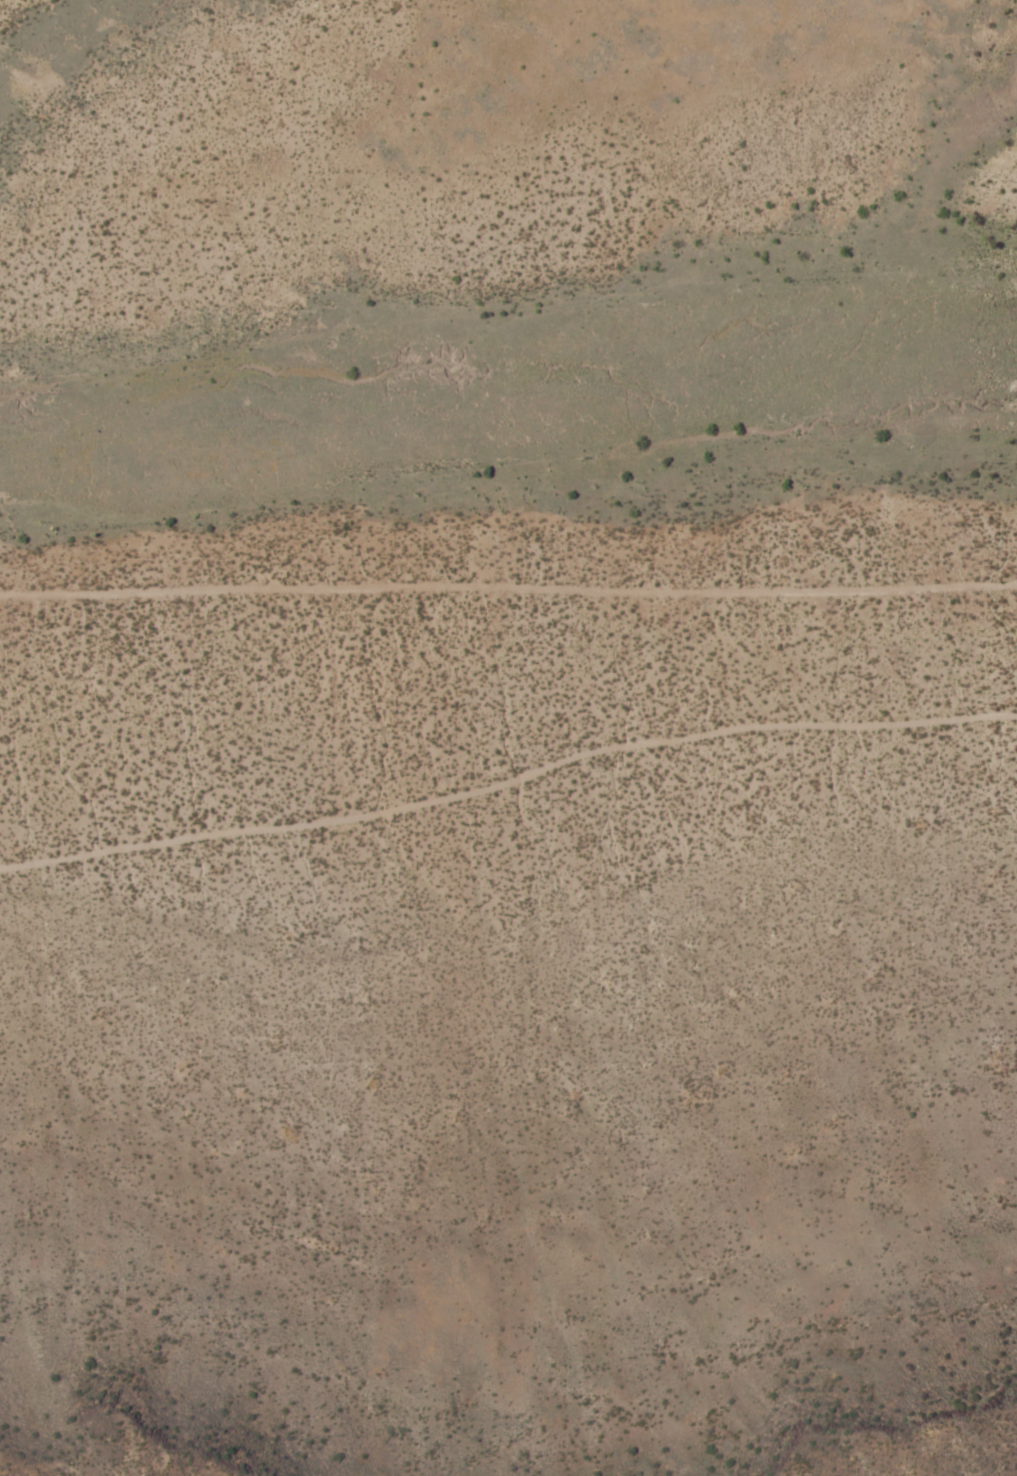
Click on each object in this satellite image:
road: (508, 775)

